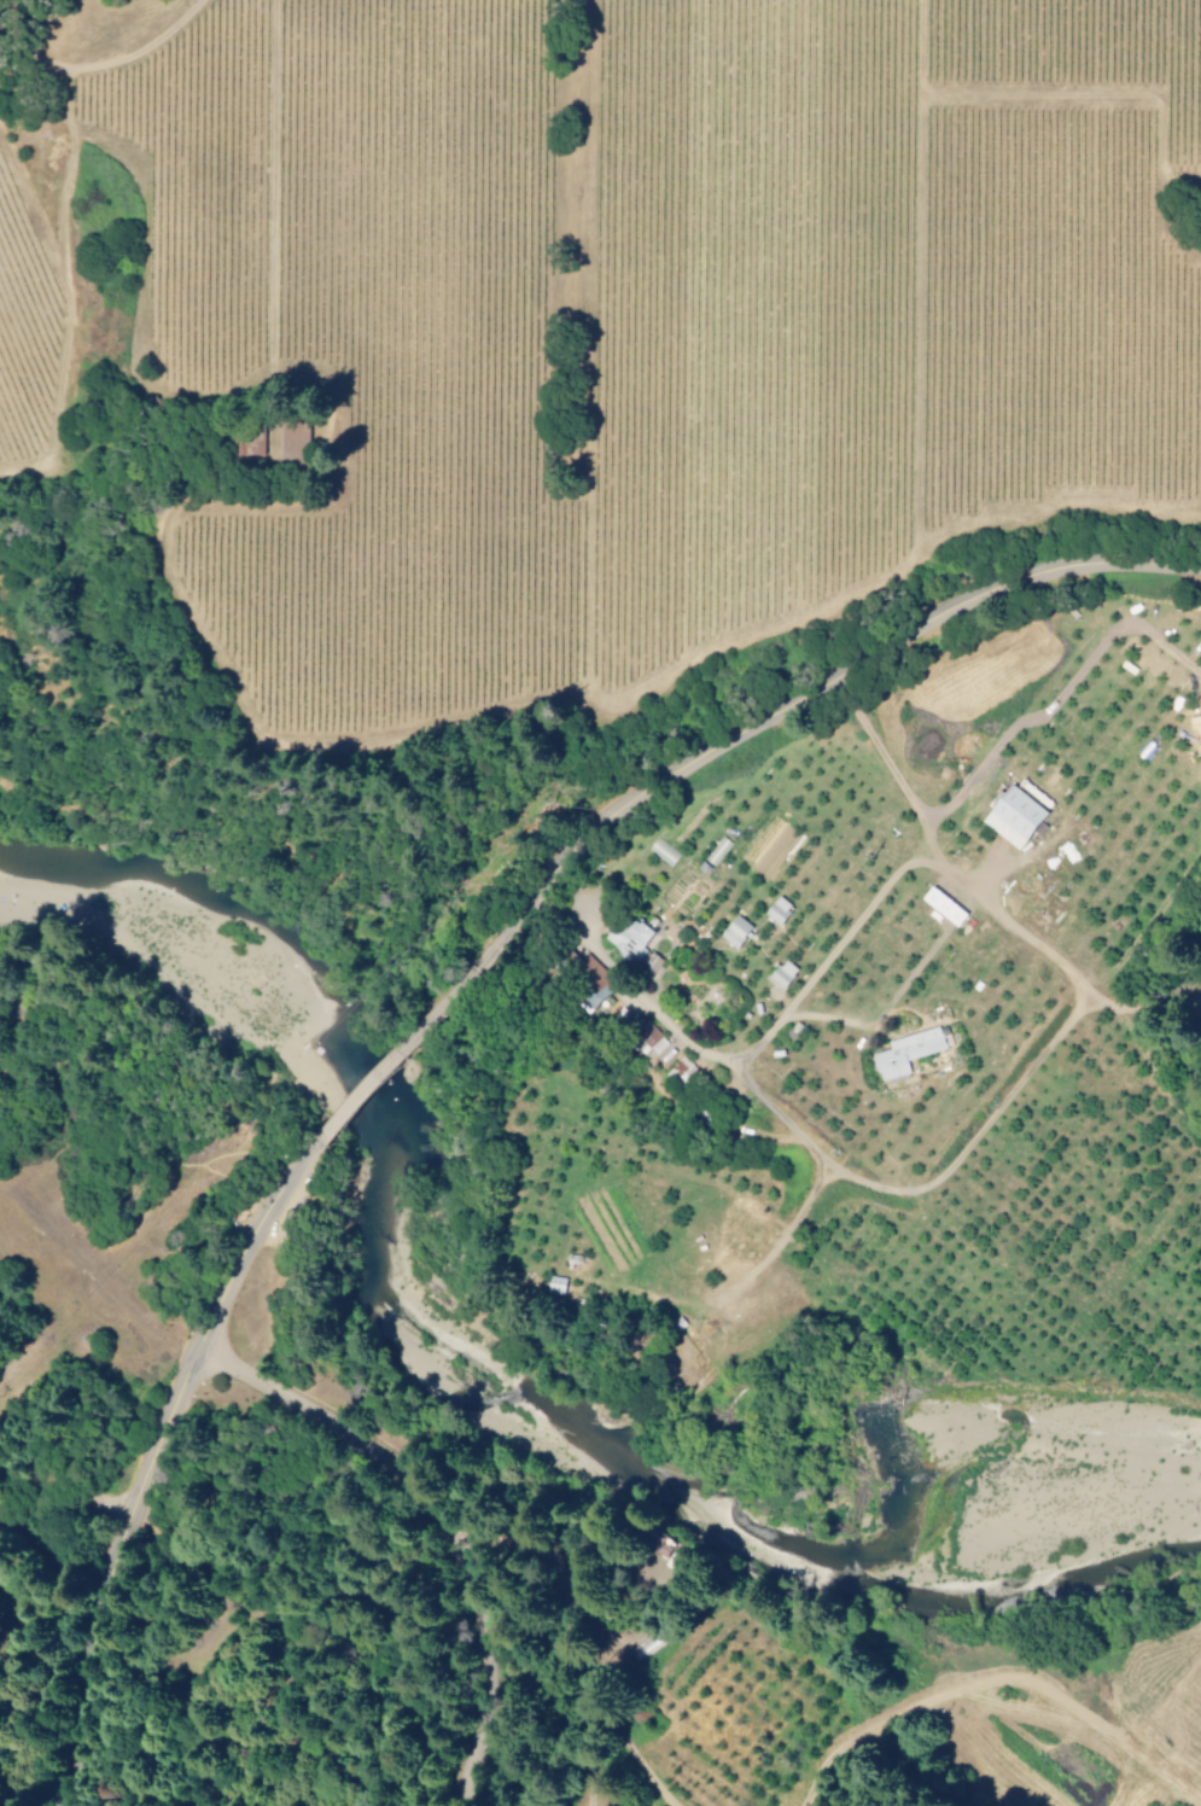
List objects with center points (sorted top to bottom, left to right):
building: (296, 445)
road: (786, 700)
building: (1020, 815)
building: (781, 911)
road: (581, 932)
building: (739, 932)
building: (634, 938)
building: (786, 974)
building: (597, 979)
building: (910, 1051)
building: (682, 1070)
road: (380, 1073)
river: (474, 1359)
road: (142, 1463)
road: (63, 1508)
road: (439, 1516)
road: (614, 1648)
road: (993, 1683)

